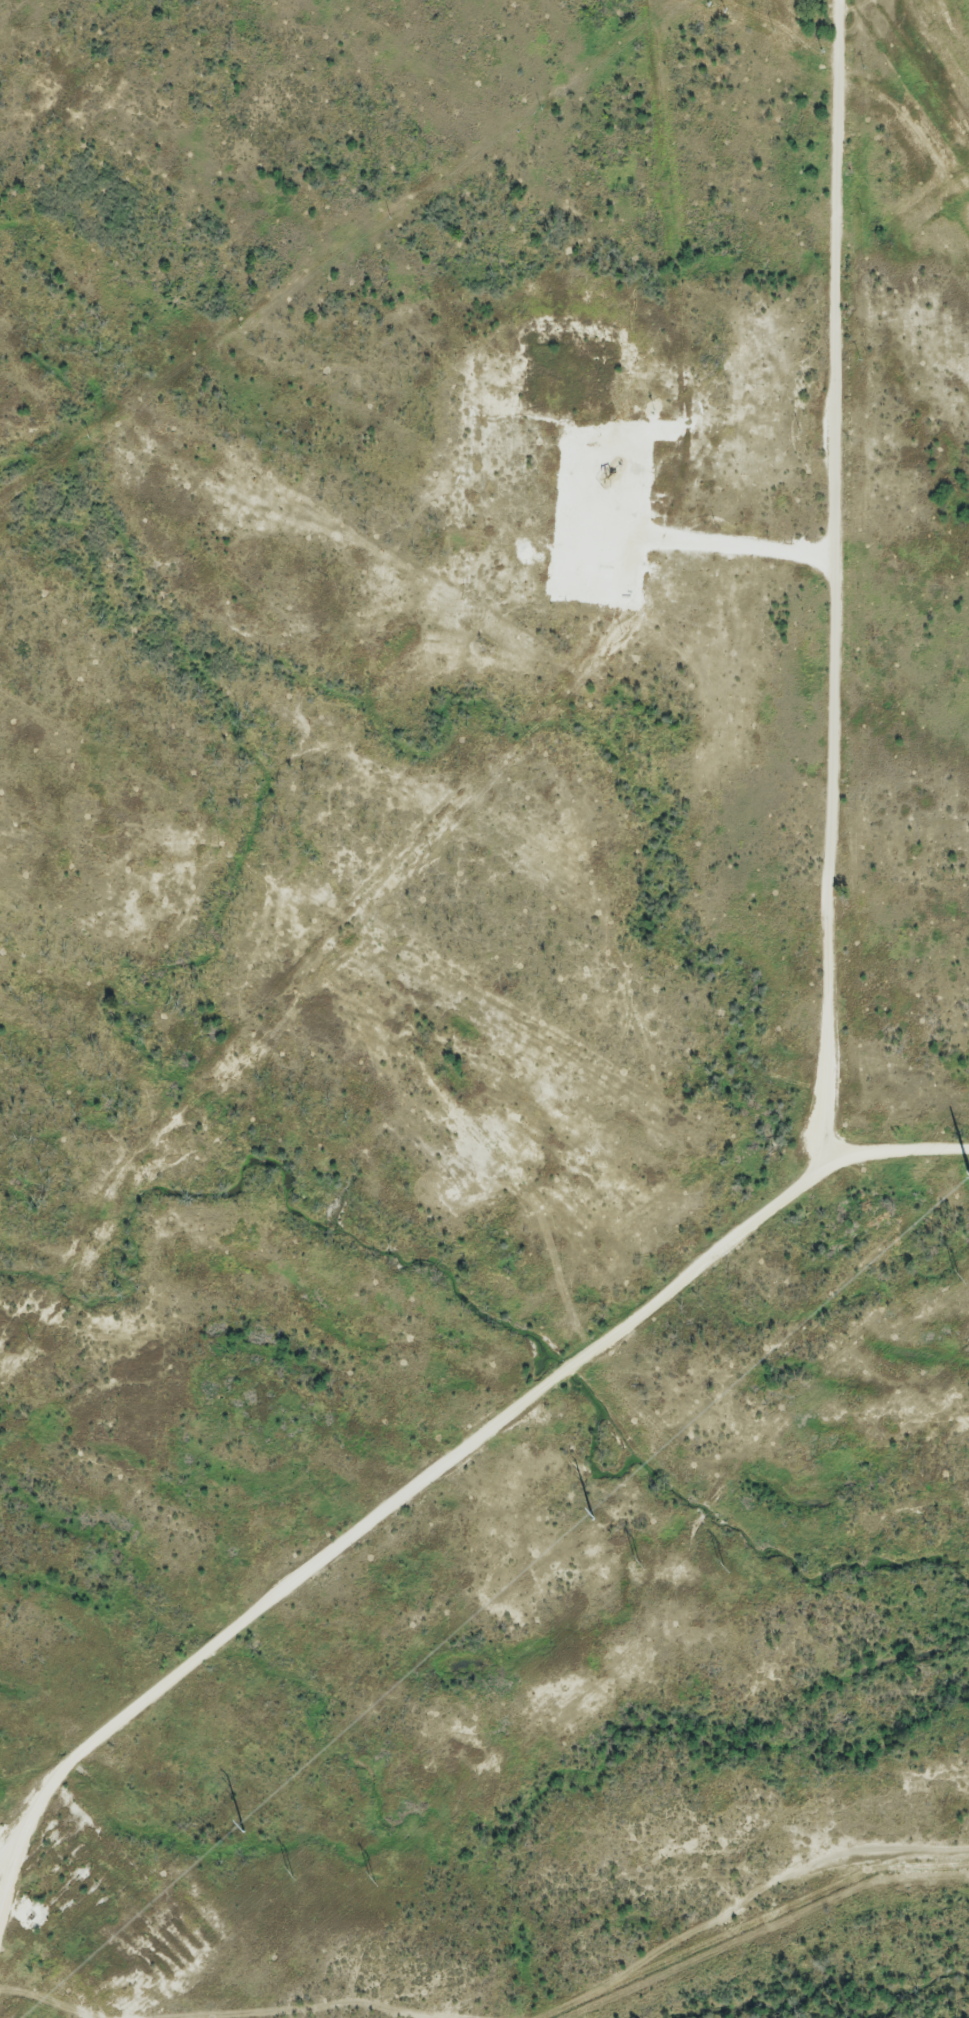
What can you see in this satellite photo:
road: (722, 547)
road: (830, 649)
power tower: (968, 1172)
power tower: (965, 1280)
road: (394, 1503)
power tower: (593, 1521)
power tower: (641, 1563)
power tower: (722, 1564)
power tower: (247, 1833)
power tower: (296, 1876)
power tower: (372, 1877)

